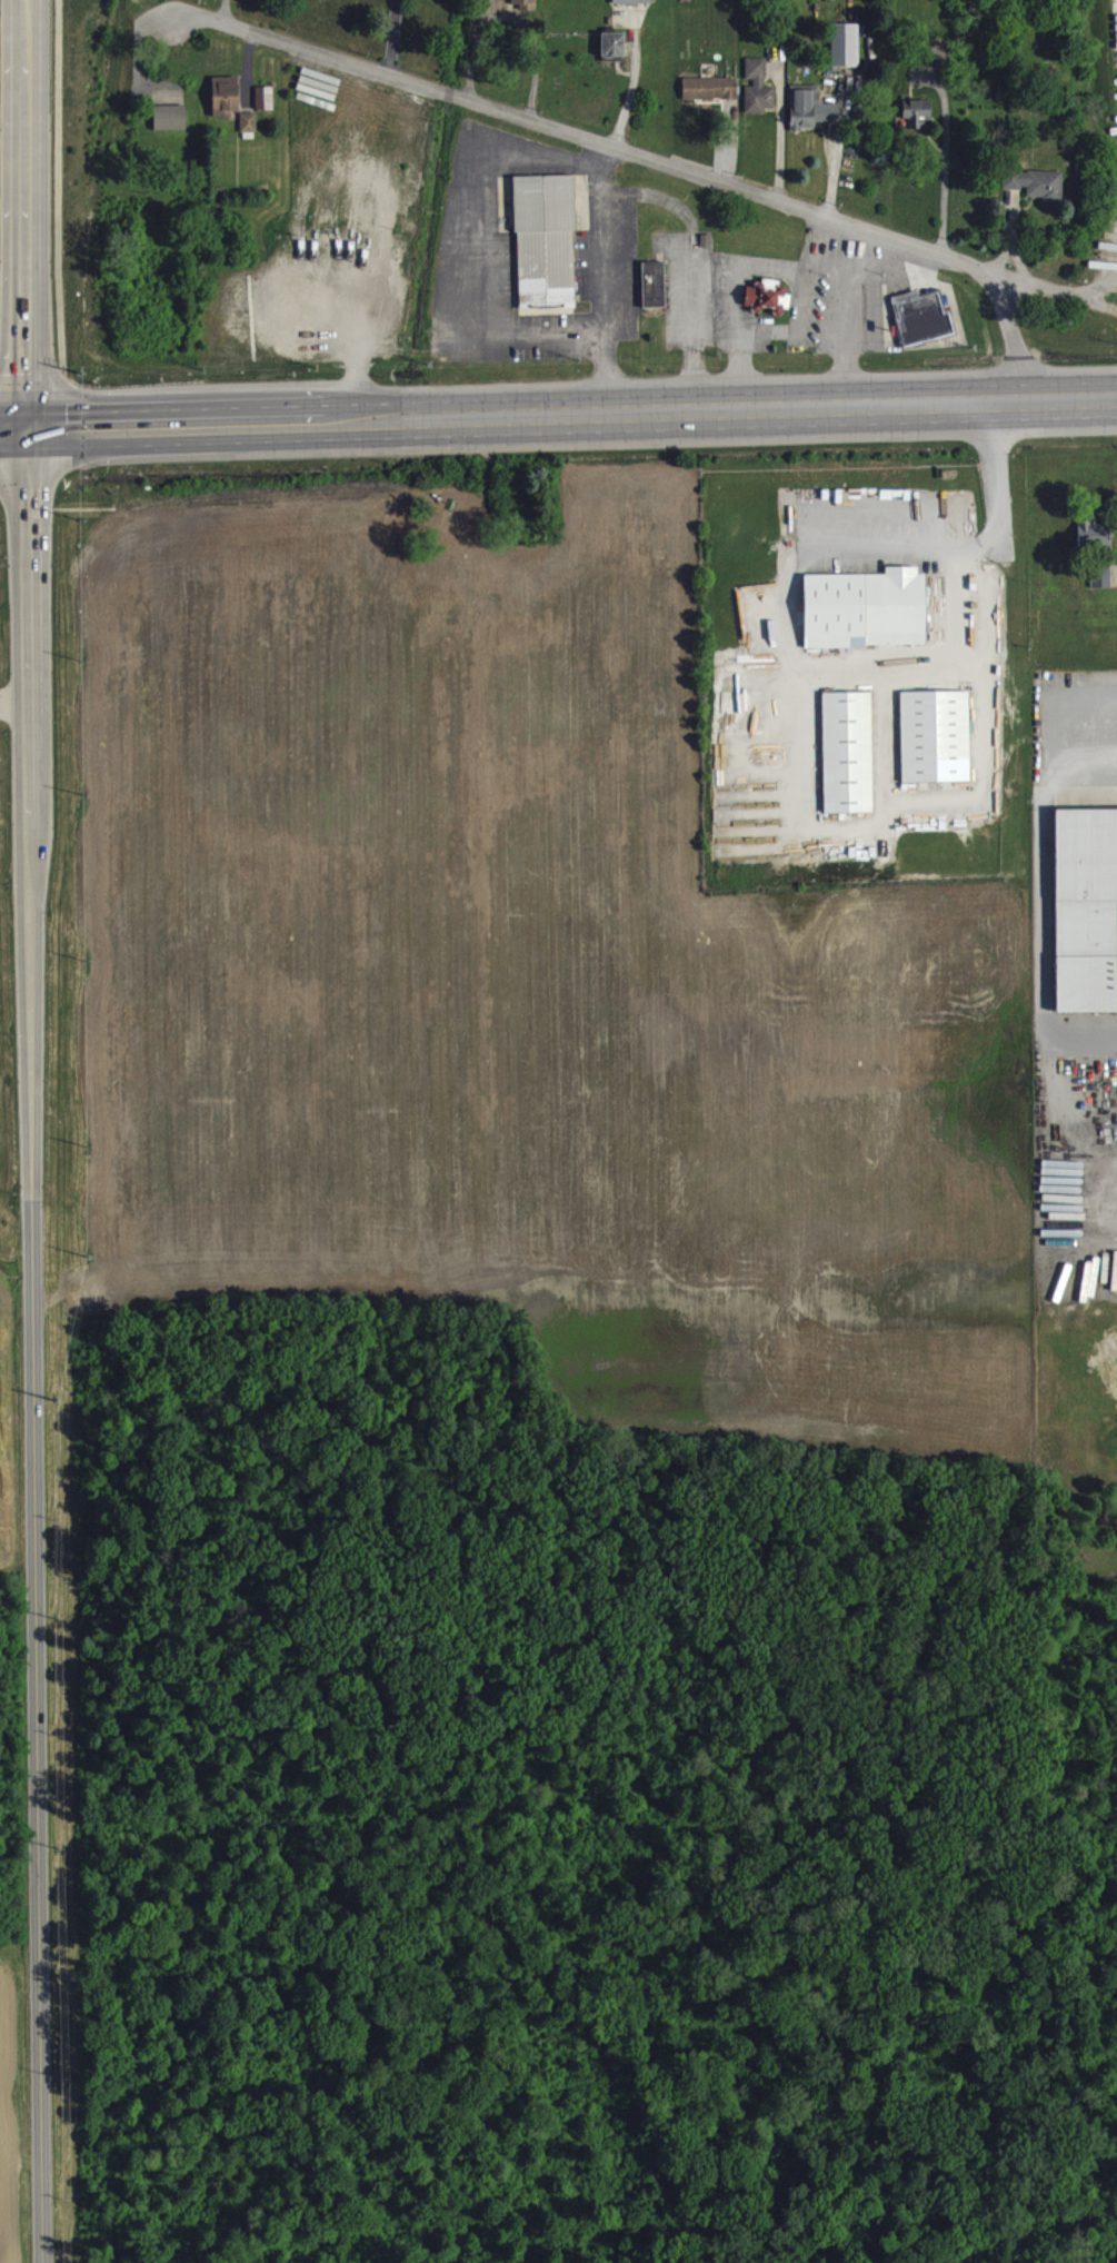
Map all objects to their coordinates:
building: (627, 0)
building: (526, 9)
building: (610, 43)
building: (842, 43)
building: (755, 85)
building: (707, 86)
building: (711, 98)
building: (227, 105)
building: (807, 106)
building: (266, 107)
building: (914, 110)
building: (916, 122)
building: (170, 127)
building: (249, 131)
road: (644, 157)
road: (944, 160)
building: (1033, 181)
road: (23, 212)
road: (60, 212)
building: (543, 238)
road: (694, 274)
road: (608, 278)
road: (731, 279)
building: (651, 282)
road: (1051, 289)
building: (764, 295)
road: (850, 314)
building: (919, 315)
road: (558, 411)
traffic signals: (23, 426)
road: (999, 535)
building: (1091, 536)
building: (1098, 577)
building: (1101, 587)
building: (862, 606)
building: (933, 734)
building: (845, 750)
building: (1084, 906)
road: (38, 1344)

